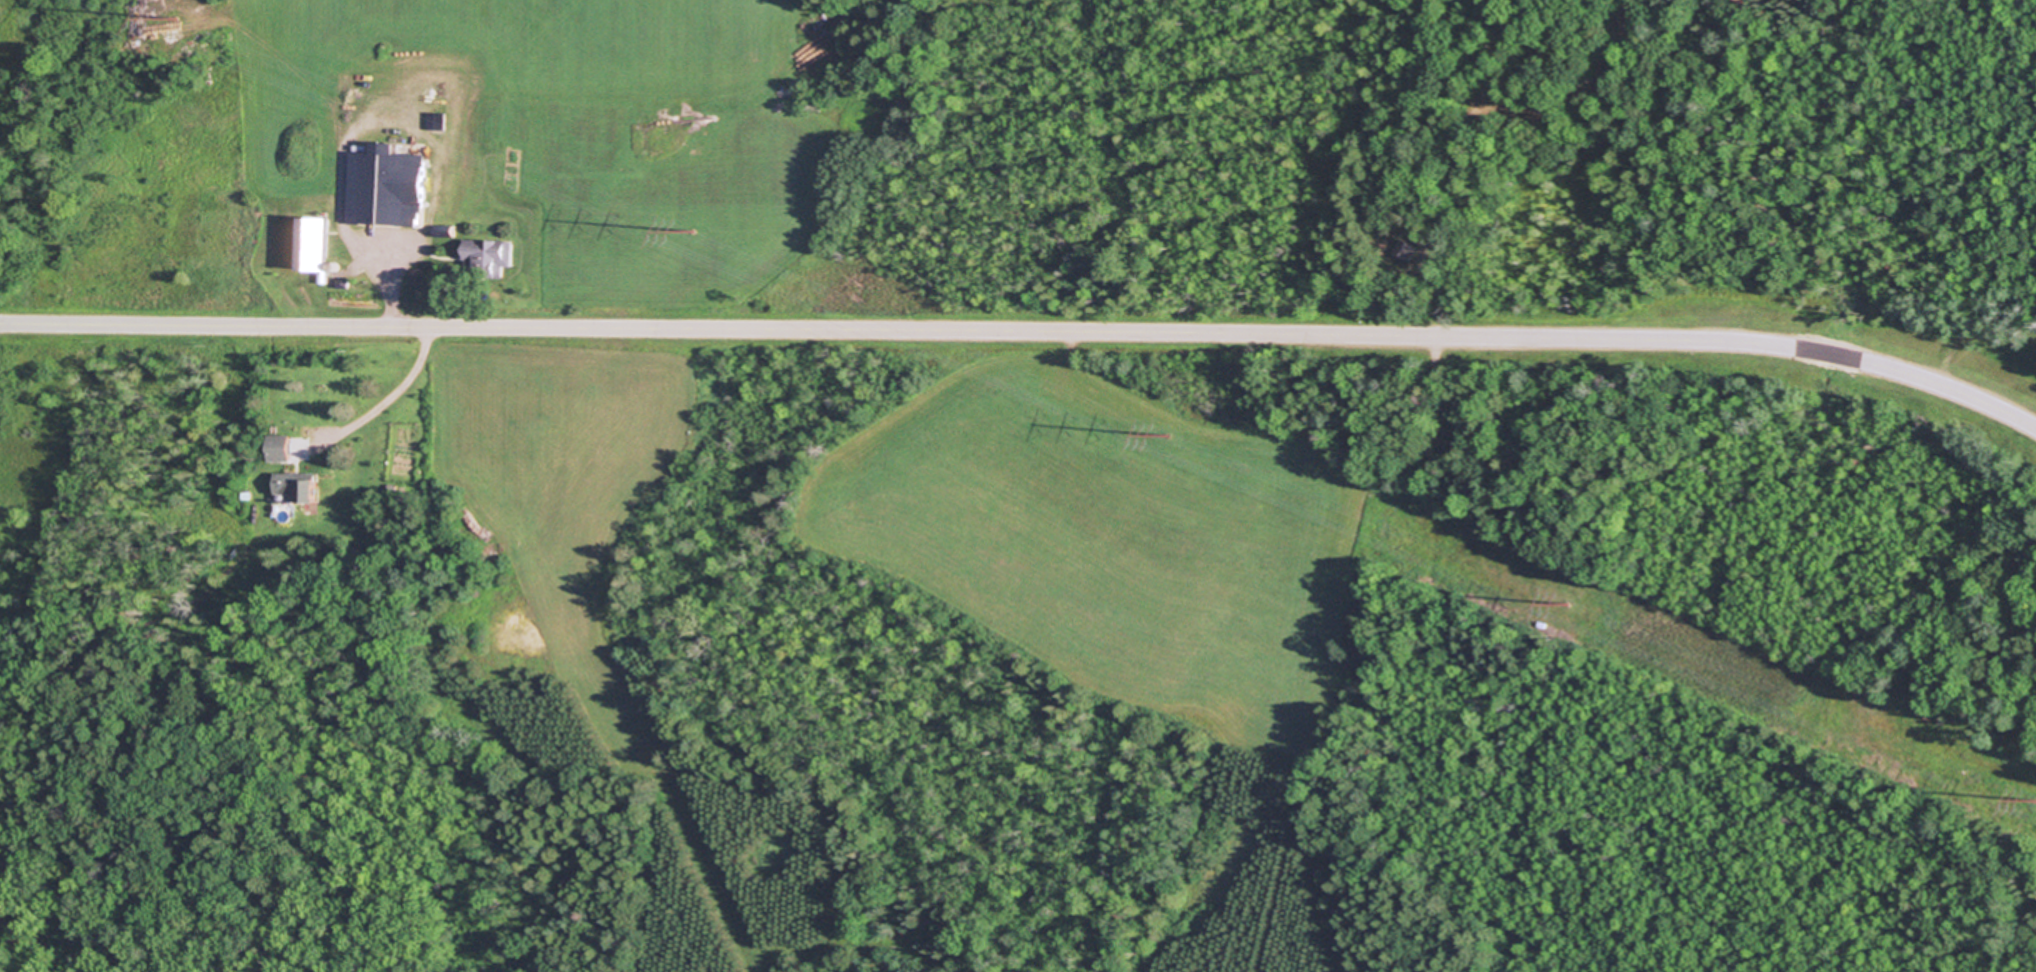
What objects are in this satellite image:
power tower: (182, 15)
building: (388, 184)
power tower: (693, 229)
building: (317, 243)
building: (490, 254)
road: (392, 287)
road: (1025, 332)
road: (391, 394)
power tower: (1168, 434)
building: (281, 448)
building: (297, 487)
power tower: (1567, 603)

